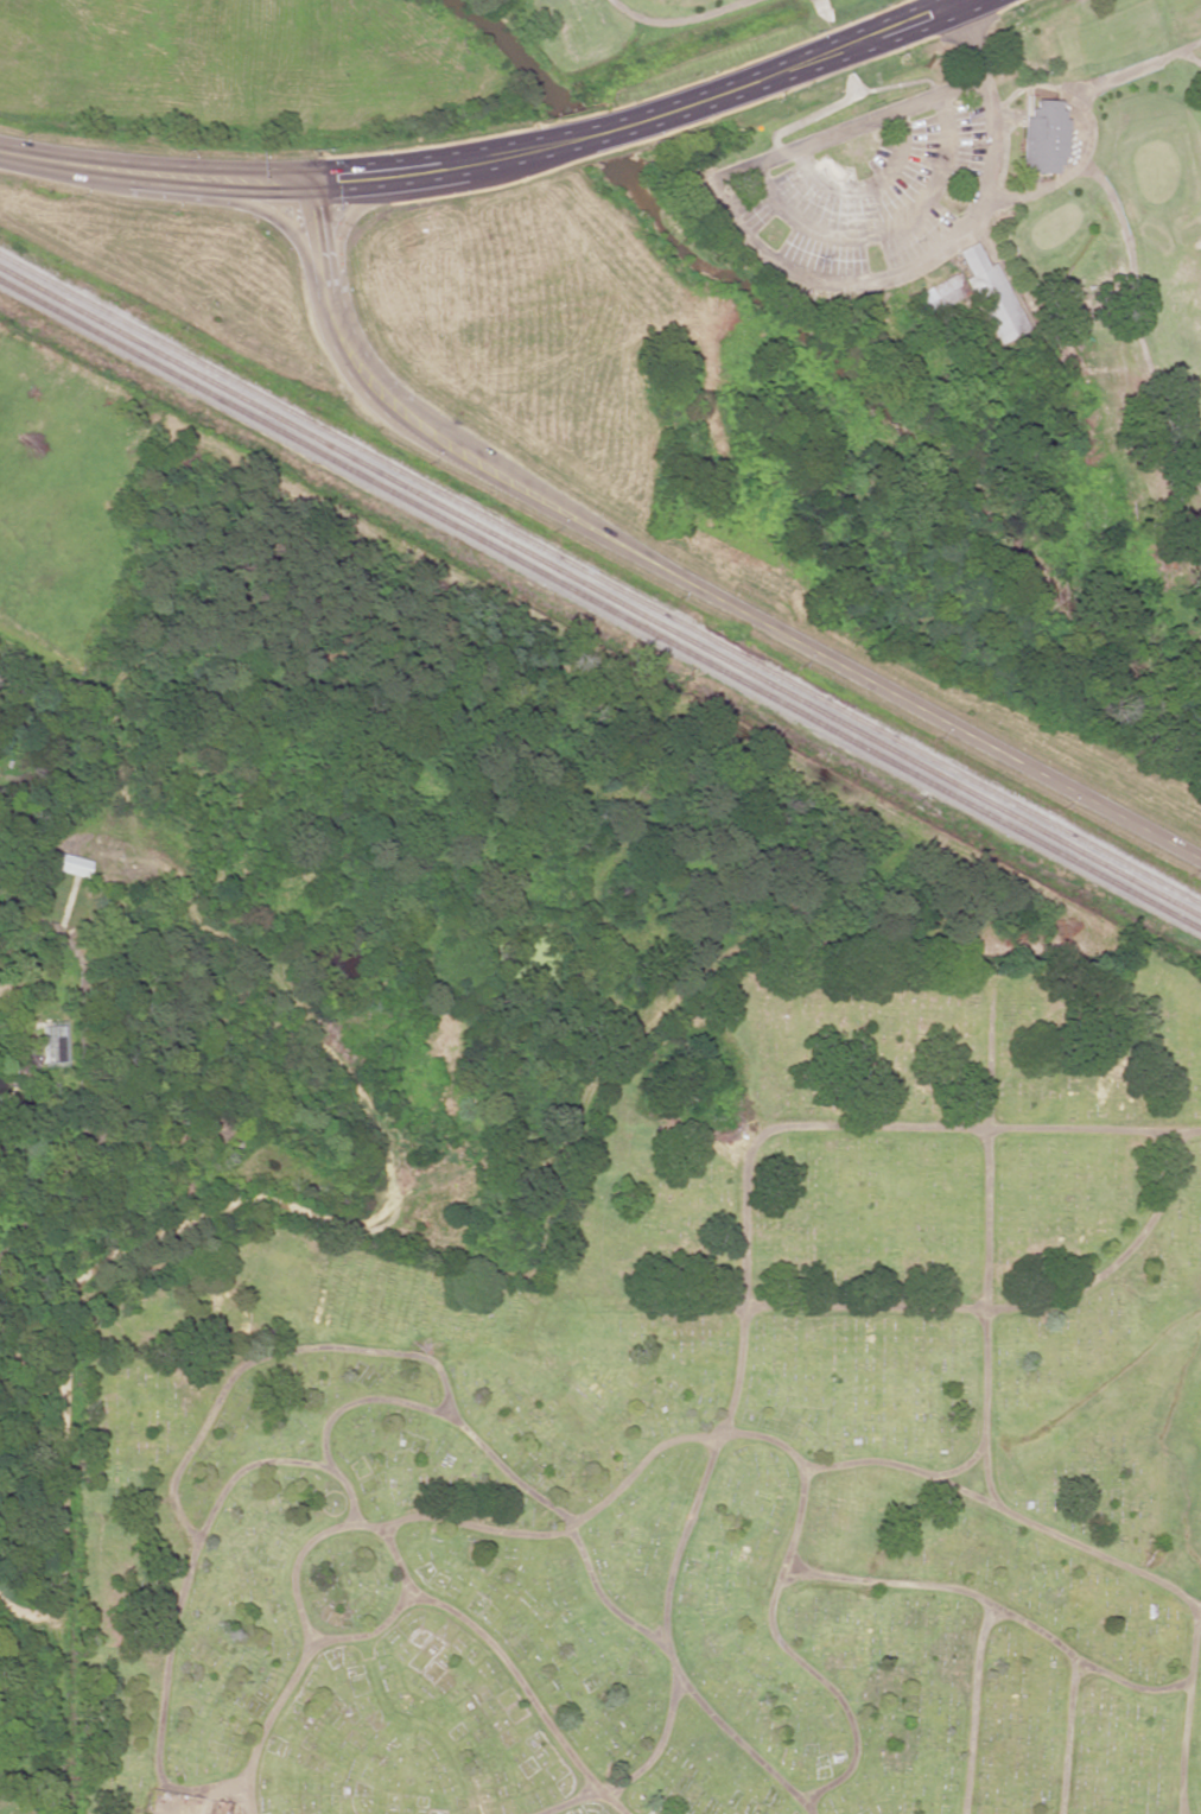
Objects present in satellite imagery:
building: (1044, 137)
road: (572, 138)
road: (78, 165)
traffic signals: (309, 180)
parking lot: (868, 197)
road: (349, 213)
road: (269, 216)
park: (966, 234)
road: (744, 241)
road: (319, 248)
building: (941, 294)
building: (992, 294)
railway: (599, 590)
railway: (600, 603)
road: (745, 611)
road: (109, 708)
building: (71, 863)
road: (825, 1125)
road: (985, 1230)
road: (1011, 1305)
road: (263, 1356)
road: (361, 1401)
park: (695, 1433)
road: (966, 1464)
road: (640, 1465)
road: (1009, 1514)
road: (566, 1522)
road: (184, 1588)
road: (995, 1607)
road: (376, 1631)
road: (668, 1647)
road: (828, 1688)
road: (528, 1691)
road: (972, 1707)
road: (1187, 1712)
road: (265, 1727)
road: (1067, 1737)
road: (568, 1803)

